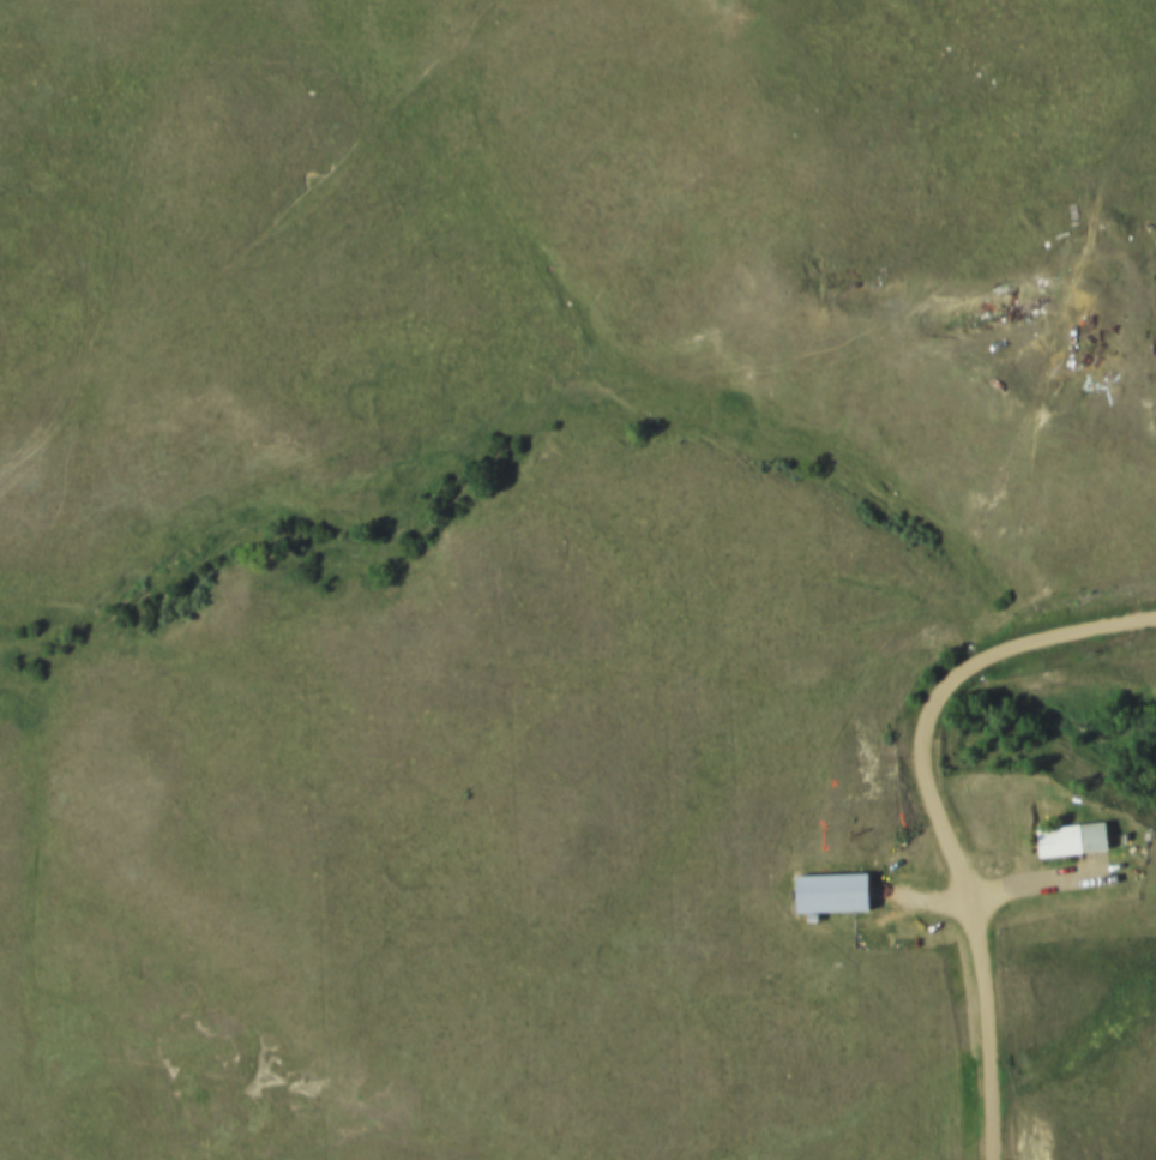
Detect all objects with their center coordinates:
road: (1096, 184)
road: (945, 815)
building: (1078, 839)
building: (836, 891)

